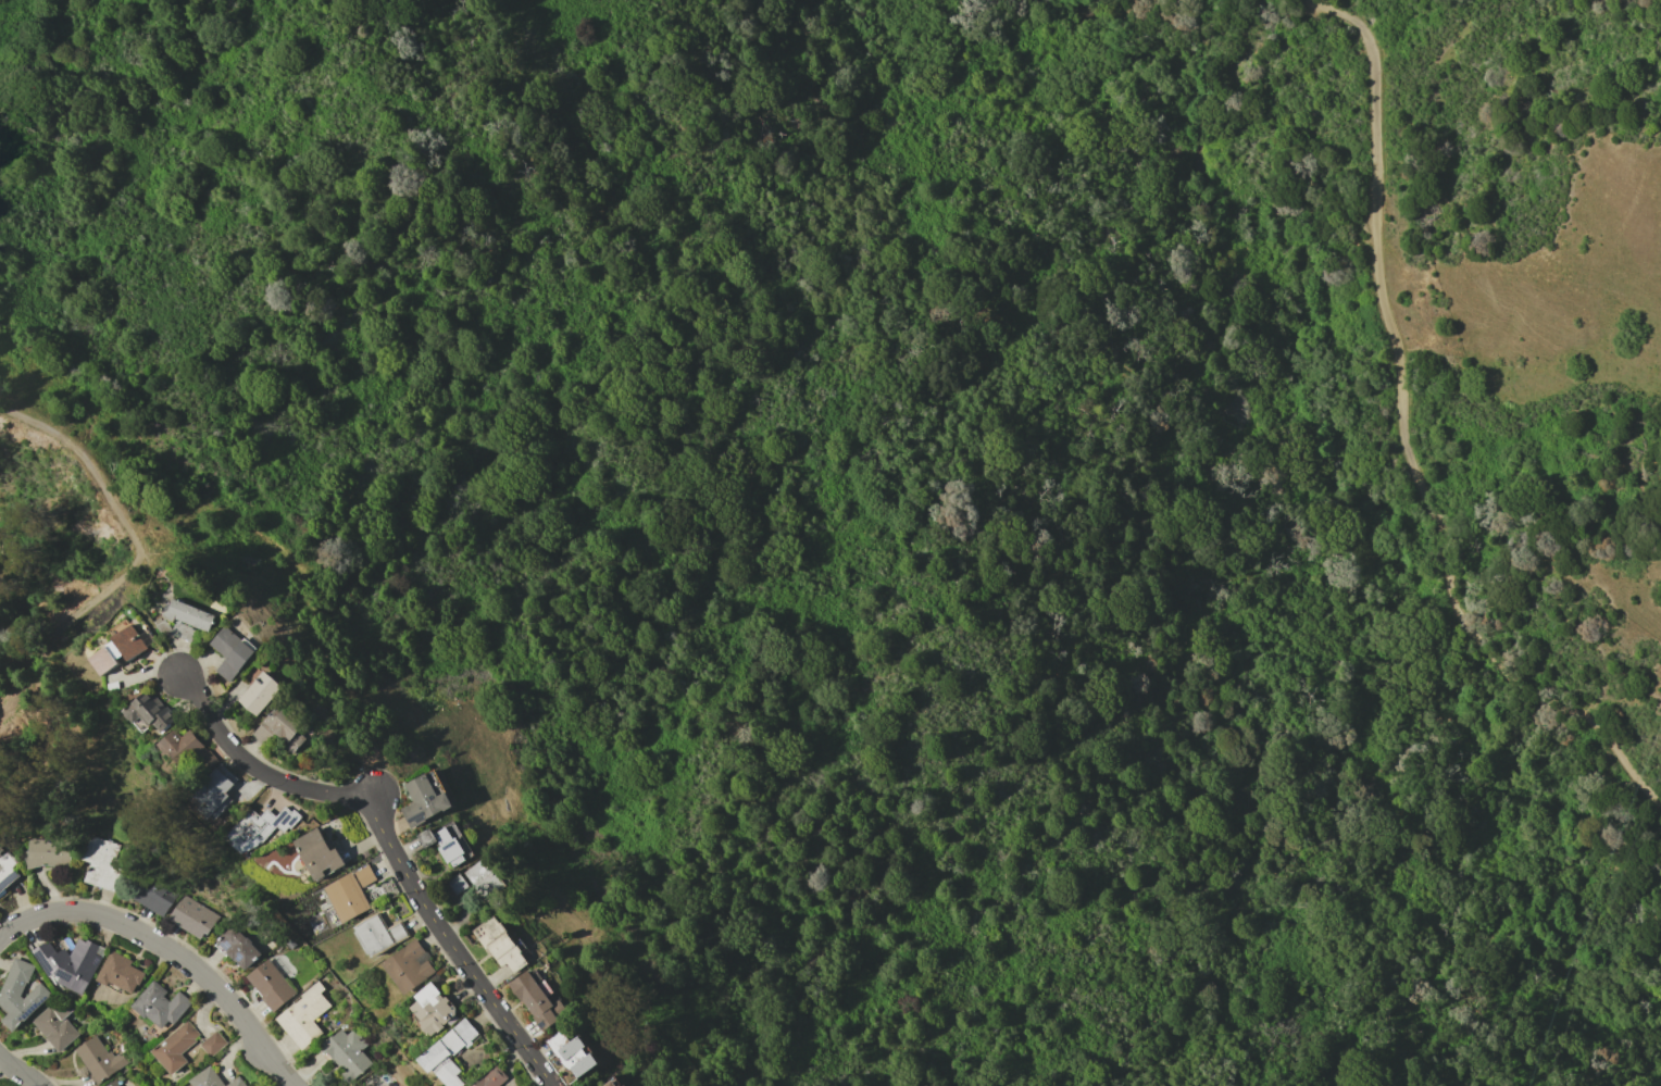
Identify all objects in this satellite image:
road: (1404, 435)
road: (85, 461)
road: (1172, 530)
road: (291, 566)
road: (137, 608)
building: (187, 614)
building: (160, 623)
building: (183, 632)
building: (130, 640)
building: (230, 651)
building: (107, 658)
road: (42, 669)
building: (258, 689)
road: (191, 698)
building: (148, 713)
building: (277, 732)
building: (186, 750)
building: (211, 794)
building: (425, 798)
building: (258, 828)
building: (446, 841)
building: (0, 848)
building: (47, 852)
building: (317, 853)
road: (400, 862)
building: (100, 863)
building: (7, 871)
building: (485, 878)
building: (455, 883)
building: (349, 894)
building: (153, 896)
building: (192, 916)
building: (378, 934)
building: (501, 945)
building: (236, 946)
road: (168, 950)
building: (68, 963)
building: (410, 965)
building: (118, 974)
building: (270, 985)
building: (21, 994)
building: (536, 999)
building: (159, 1007)
building: (433, 1009)
building: (303, 1015)
building: (57, 1023)
building: (213, 1044)
building: (117, 1045)
building: (175, 1047)
building: (347, 1050)
building: (448, 1052)
building: (571, 1053)
building: (99, 1059)
road: (18, 1071)
building: (491, 1077)
building: (212, 1079)
building: (112, 1083)
building: (609, 1084)
building: (617, 1085)
building: (623, 1085)

